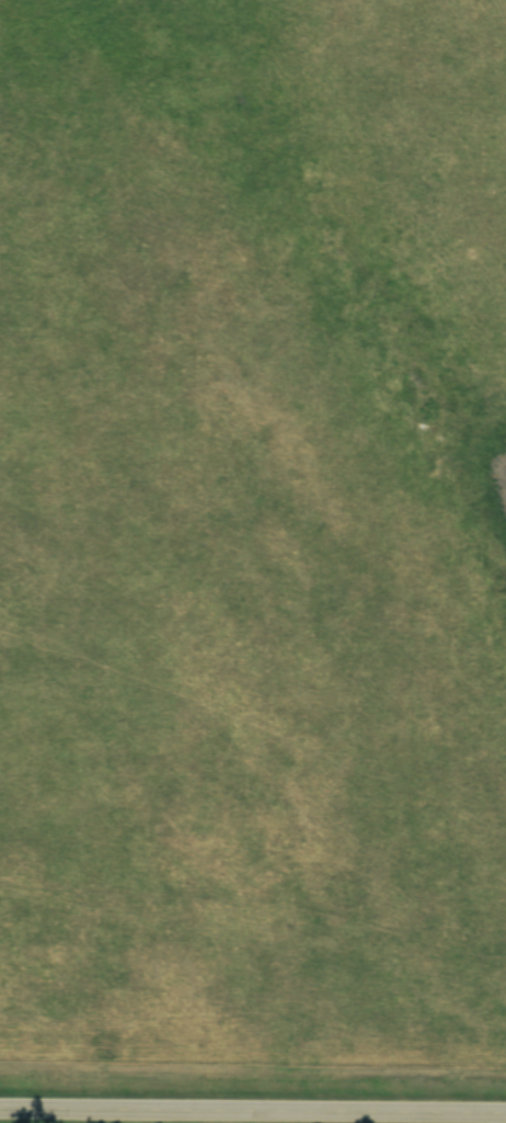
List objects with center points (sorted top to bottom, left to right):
road: (253, 1109)

